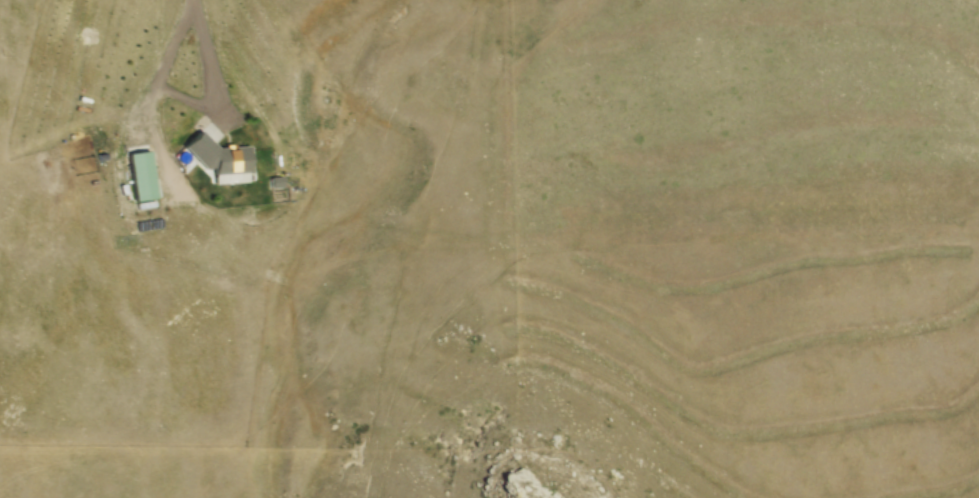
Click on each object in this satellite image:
road: (202, 63)
road: (160, 69)
road: (181, 100)
building: (216, 158)
building: (139, 178)

